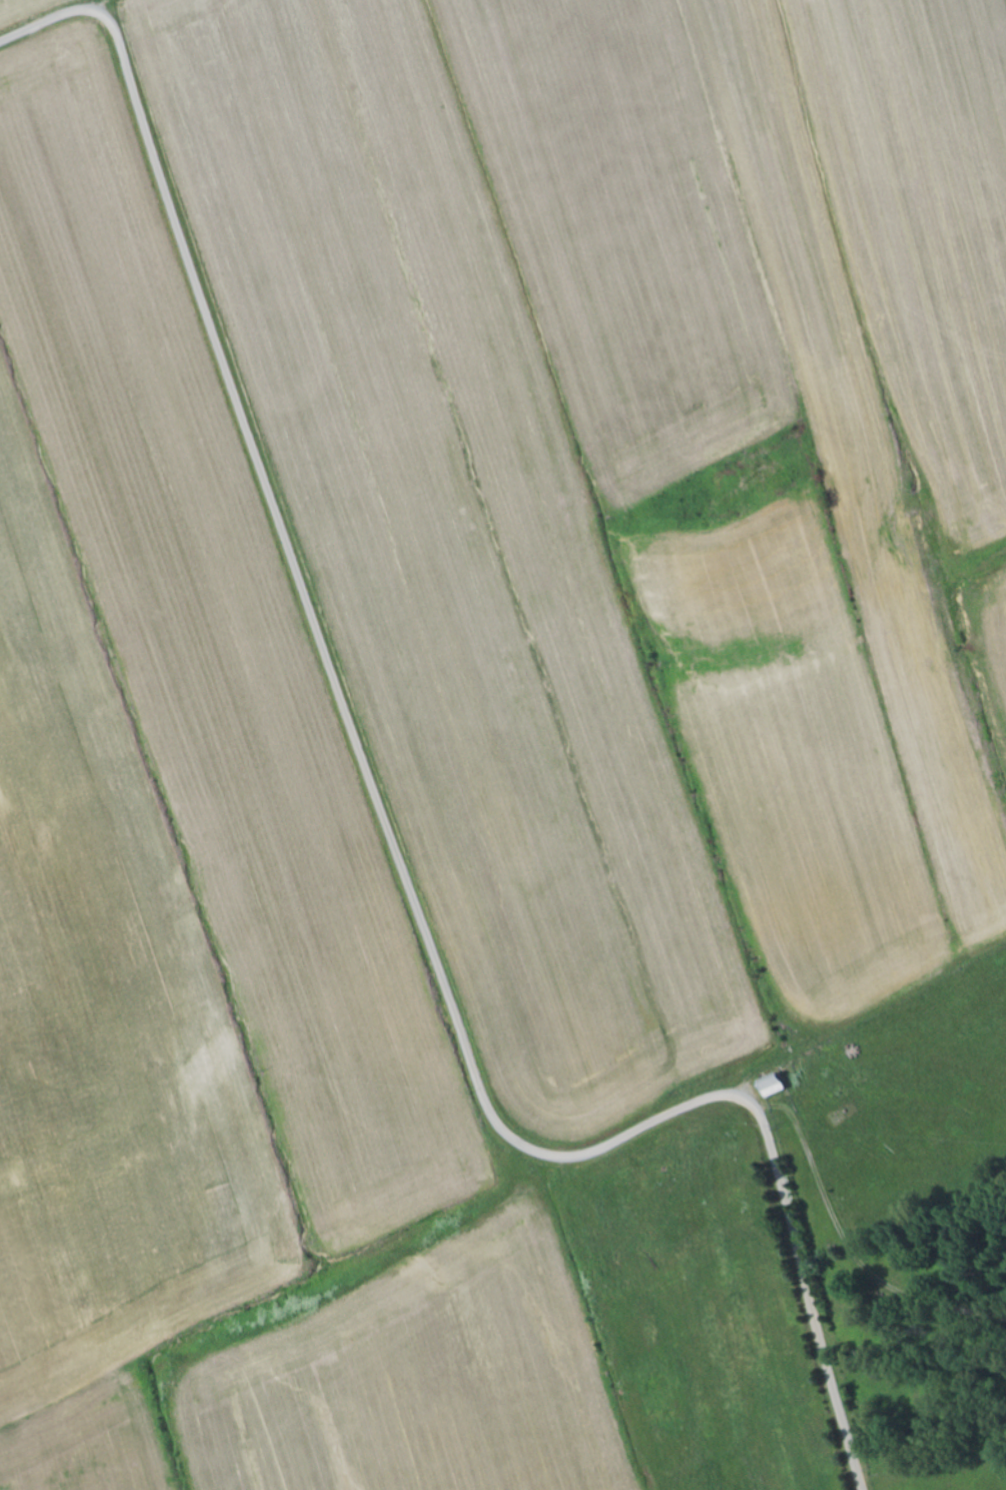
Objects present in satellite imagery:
road: (321, 635)
road: (755, 1107)
road: (808, 1313)

